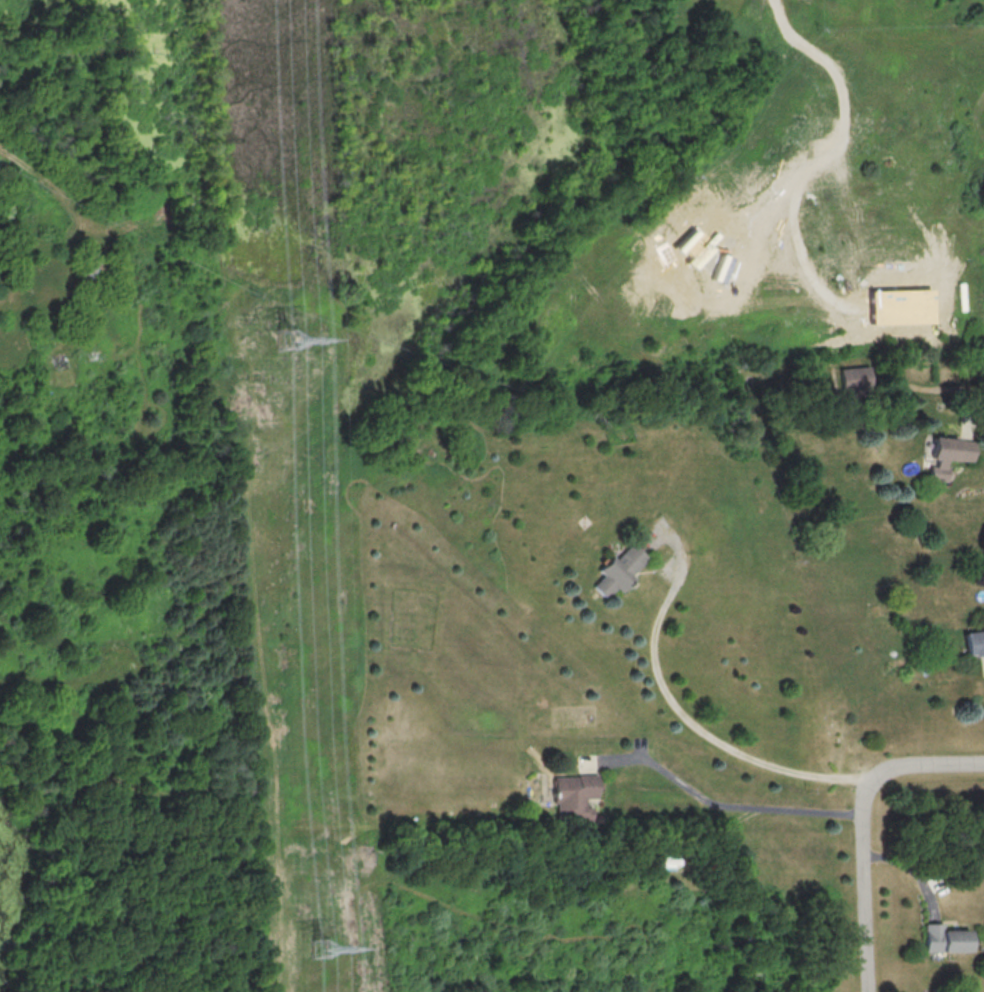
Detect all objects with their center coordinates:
building: (898, 306)
power tower: (287, 338)
building: (853, 380)
building: (946, 454)
building: (618, 570)
building: (973, 642)
road: (689, 721)
road: (929, 767)
building: (572, 796)
road: (723, 807)
road: (861, 880)
building: (943, 938)
power tower: (323, 947)

